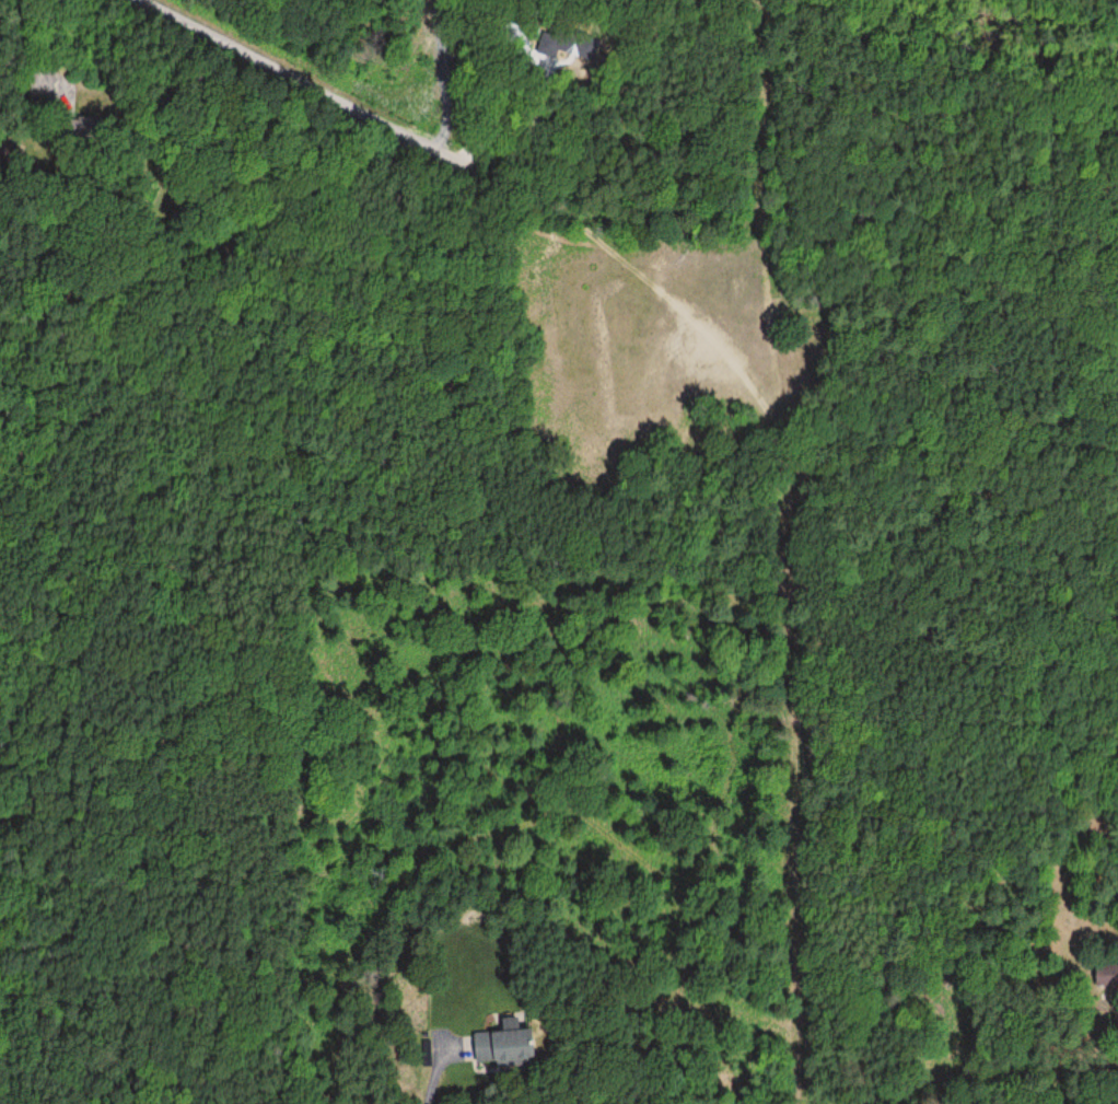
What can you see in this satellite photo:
road: (282, 73)
building: (501, 1045)

